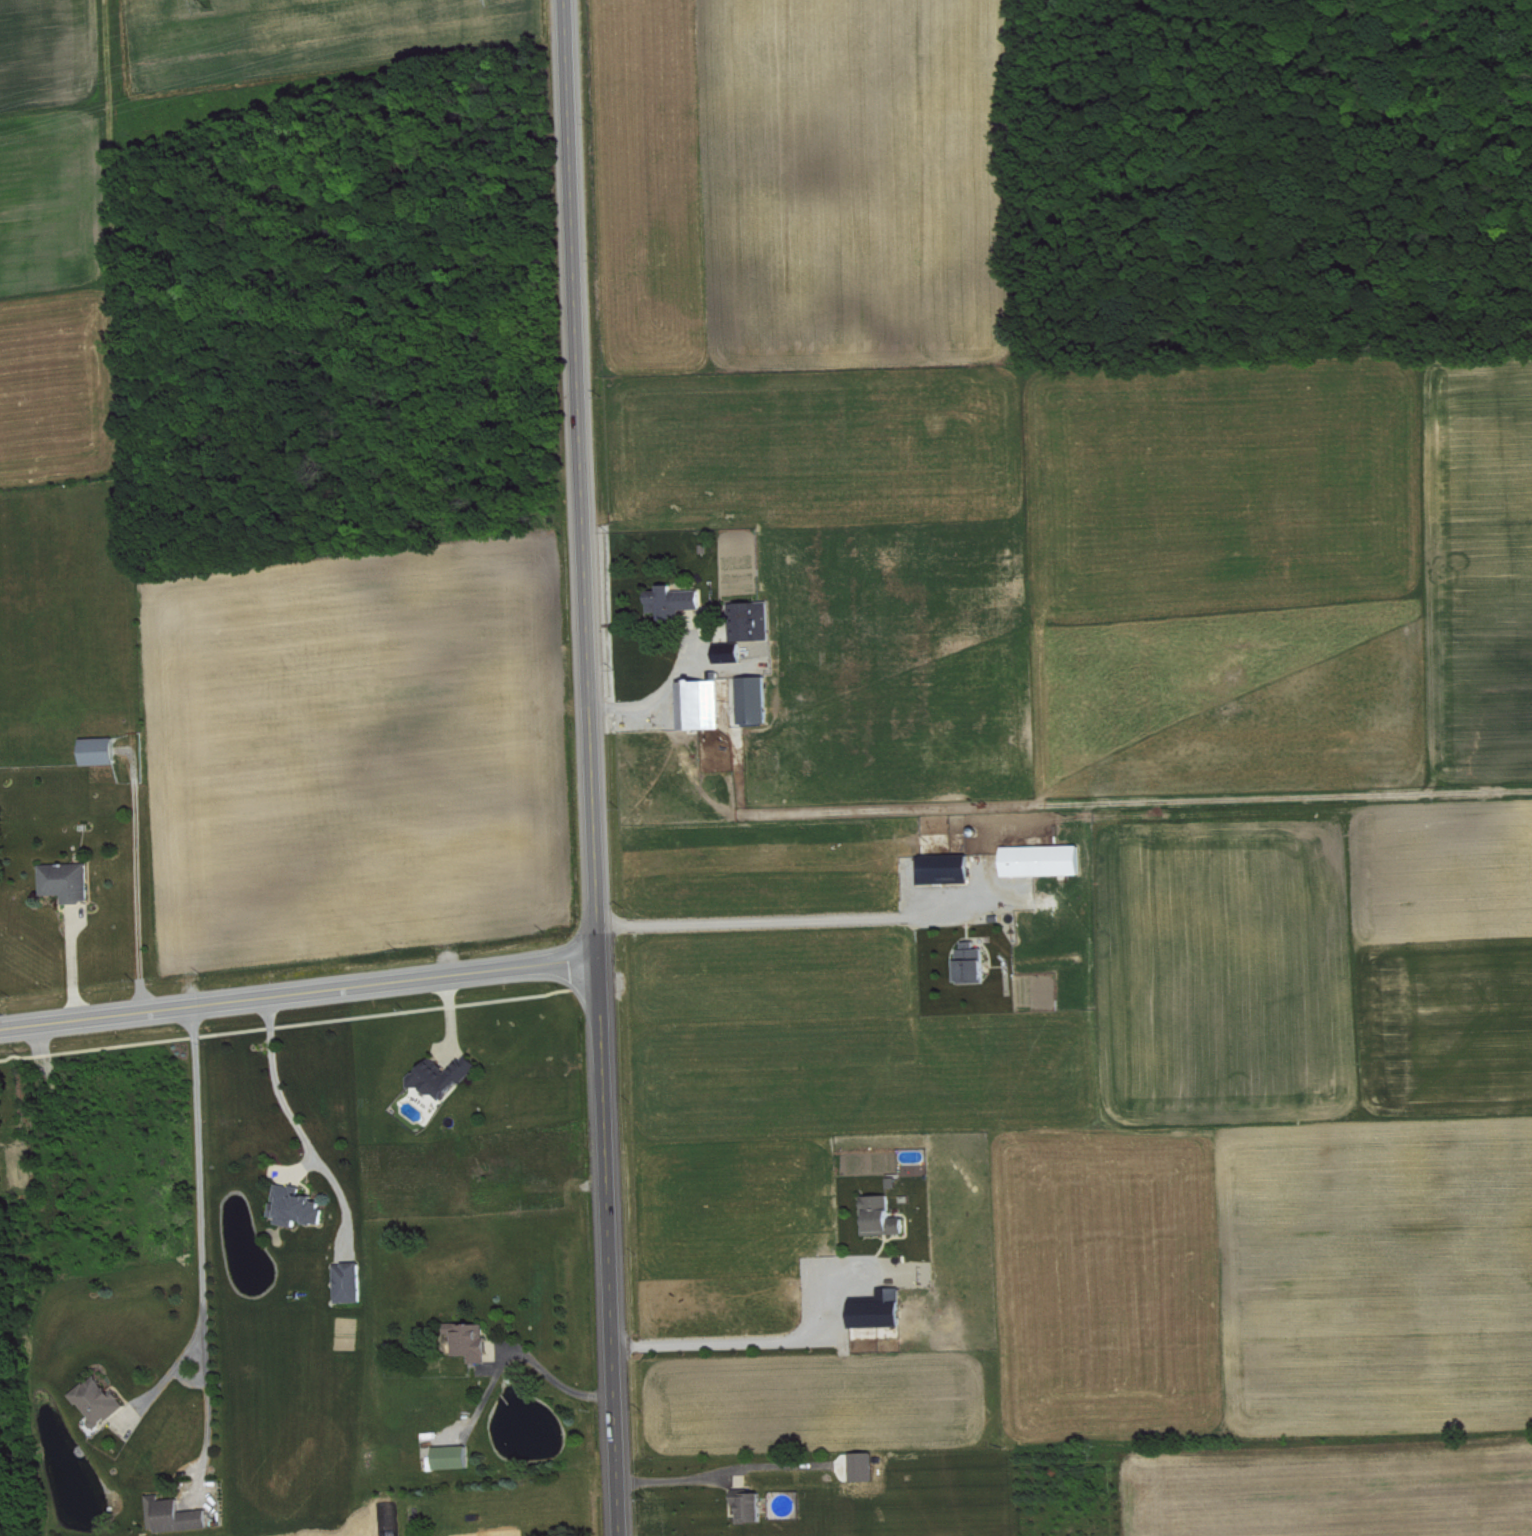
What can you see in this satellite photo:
building: (679, 601)
building: (756, 621)
building: (733, 654)
building: (761, 700)
building: (706, 705)
building: (103, 751)
road: (591, 768)
building: (1046, 861)
building: (949, 869)
building: (71, 882)
road: (774, 920)
building: (975, 963)
road: (299, 994)
building: (448, 1077)
road: (290, 1117)
building: (301, 1207)
building: (886, 1217)
road: (201, 1243)
building: (354, 1283)
building: (883, 1311)
road: (715, 1341)
building: (476, 1342)
road: (170, 1372)
road: (559, 1386)
building: (104, 1401)
building: (456, 1457)
road: (676, 1480)
building: (755, 1508)
building: (178, 1516)

